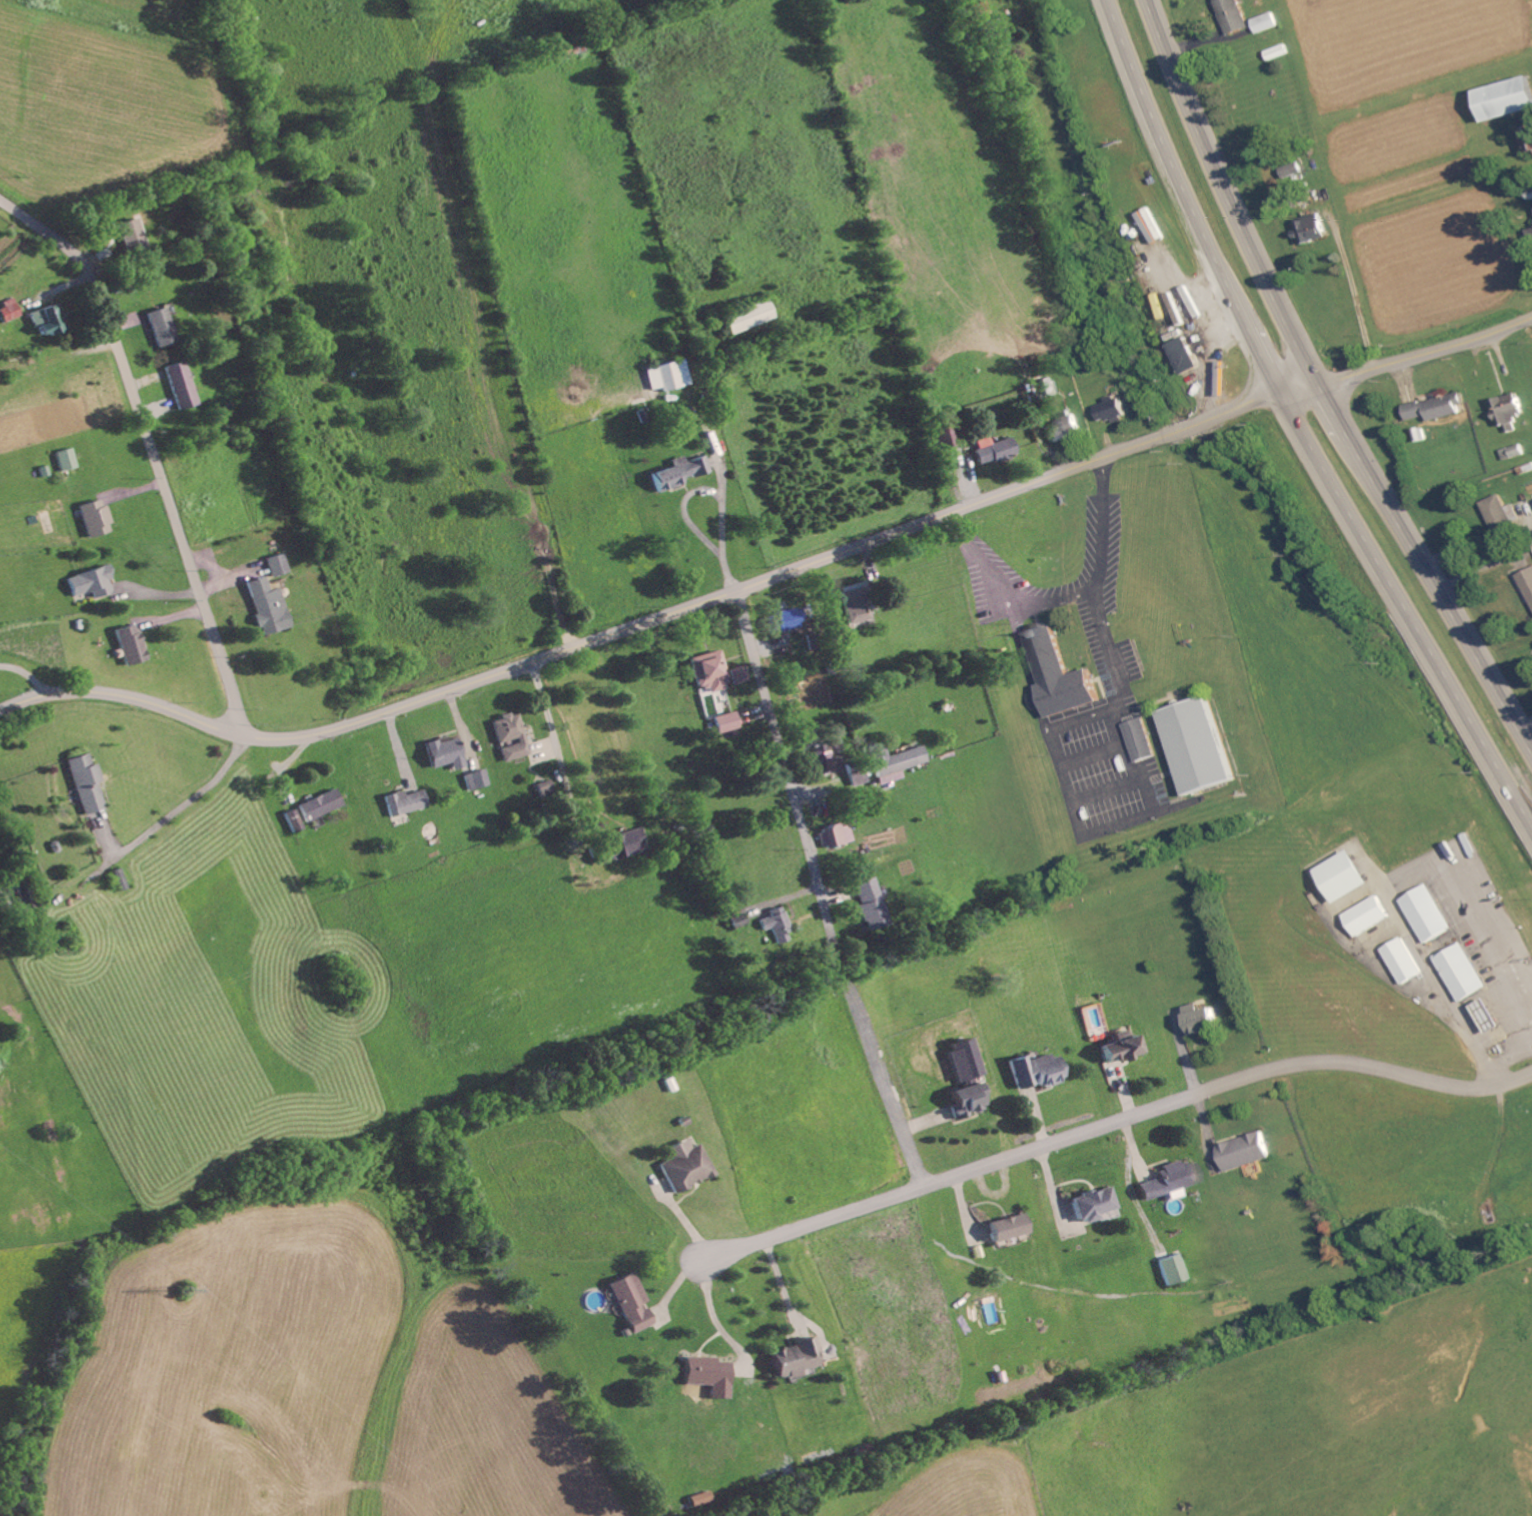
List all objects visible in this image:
building: (1236, 16)
building: (1269, 23)
building: (1508, 99)
building: (1528, 139)
building: (1296, 170)
building: (1531, 193)
building: (1315, 229)
building: (131, 235)
building: (10, 311)
building: (749, 317)
building: (49, 320)
building: (162, 327)
building: (1190, 356)
road: (1410, 359)
building: (668, 376)
road: (1320, 382)
building: (181, 385)
building: (1437, 408)
building: (1113, 410)
building: (1510, 412)
road: (1301, 420)
building: (1067, 428)
road: (152, 445)
building: (995, 450)
building: (1514, 452)
building: (67, 459)
building: (679, 472)
road: (711, 491)
building: (1500, 514)
building: (96, 518)
building: (276, 565)
building: (93, 582)
building: (1528, 582)
road: (1062, 601)
building: (857, 602)
building: (267, 607)
road: (648, 620)
building: (784, 620)
building: (130, 645)
building: (710, 671)
building: (739, 675)
building: (1062, 678)
building: (727, 723)
building: (511, 736)
building: (1142, 741)
building: (1201, 747)
building: (446, 753)
road: (558, 756)
building: (824, 756)
road: (785, 758)
building: (894, 762)
building: (477, 780)
building: (86, 783)
building: (547, 789)
road: (187, 800)
building: (406, 802)
building: (321, 805)
building: (835, 835)
building: (628, 844)
building: (1347, 877)
building: (119, 879)
building: (18, 896)
building: (870, 904)
building: (1430, 915)
building: (1368, 917)
building: (738, 921)
building: (776, 924)
road: (826, 958)
building: (1404, 962)
building: (1465, 973)
road: (1456, 1017)
building: (1490, 1017)
building: (1206, 1021)
building: (1122, 1048)
road: (1507, 1056)
building: (964, 1062)
building: (1037, 1072)
road: (885, 1082)
building: (967, 1101)
road: (1111, 1120)
building: (1247, 1153)
building: (687, 1167)
building: (1171, 1181)
building: (1094, 1204)
building: (1009, 1228)
building: (1175, 1270)
building: (633, 1303)
building: (795, 1359)
building: (710, 1376)
building: (702, 1499)

